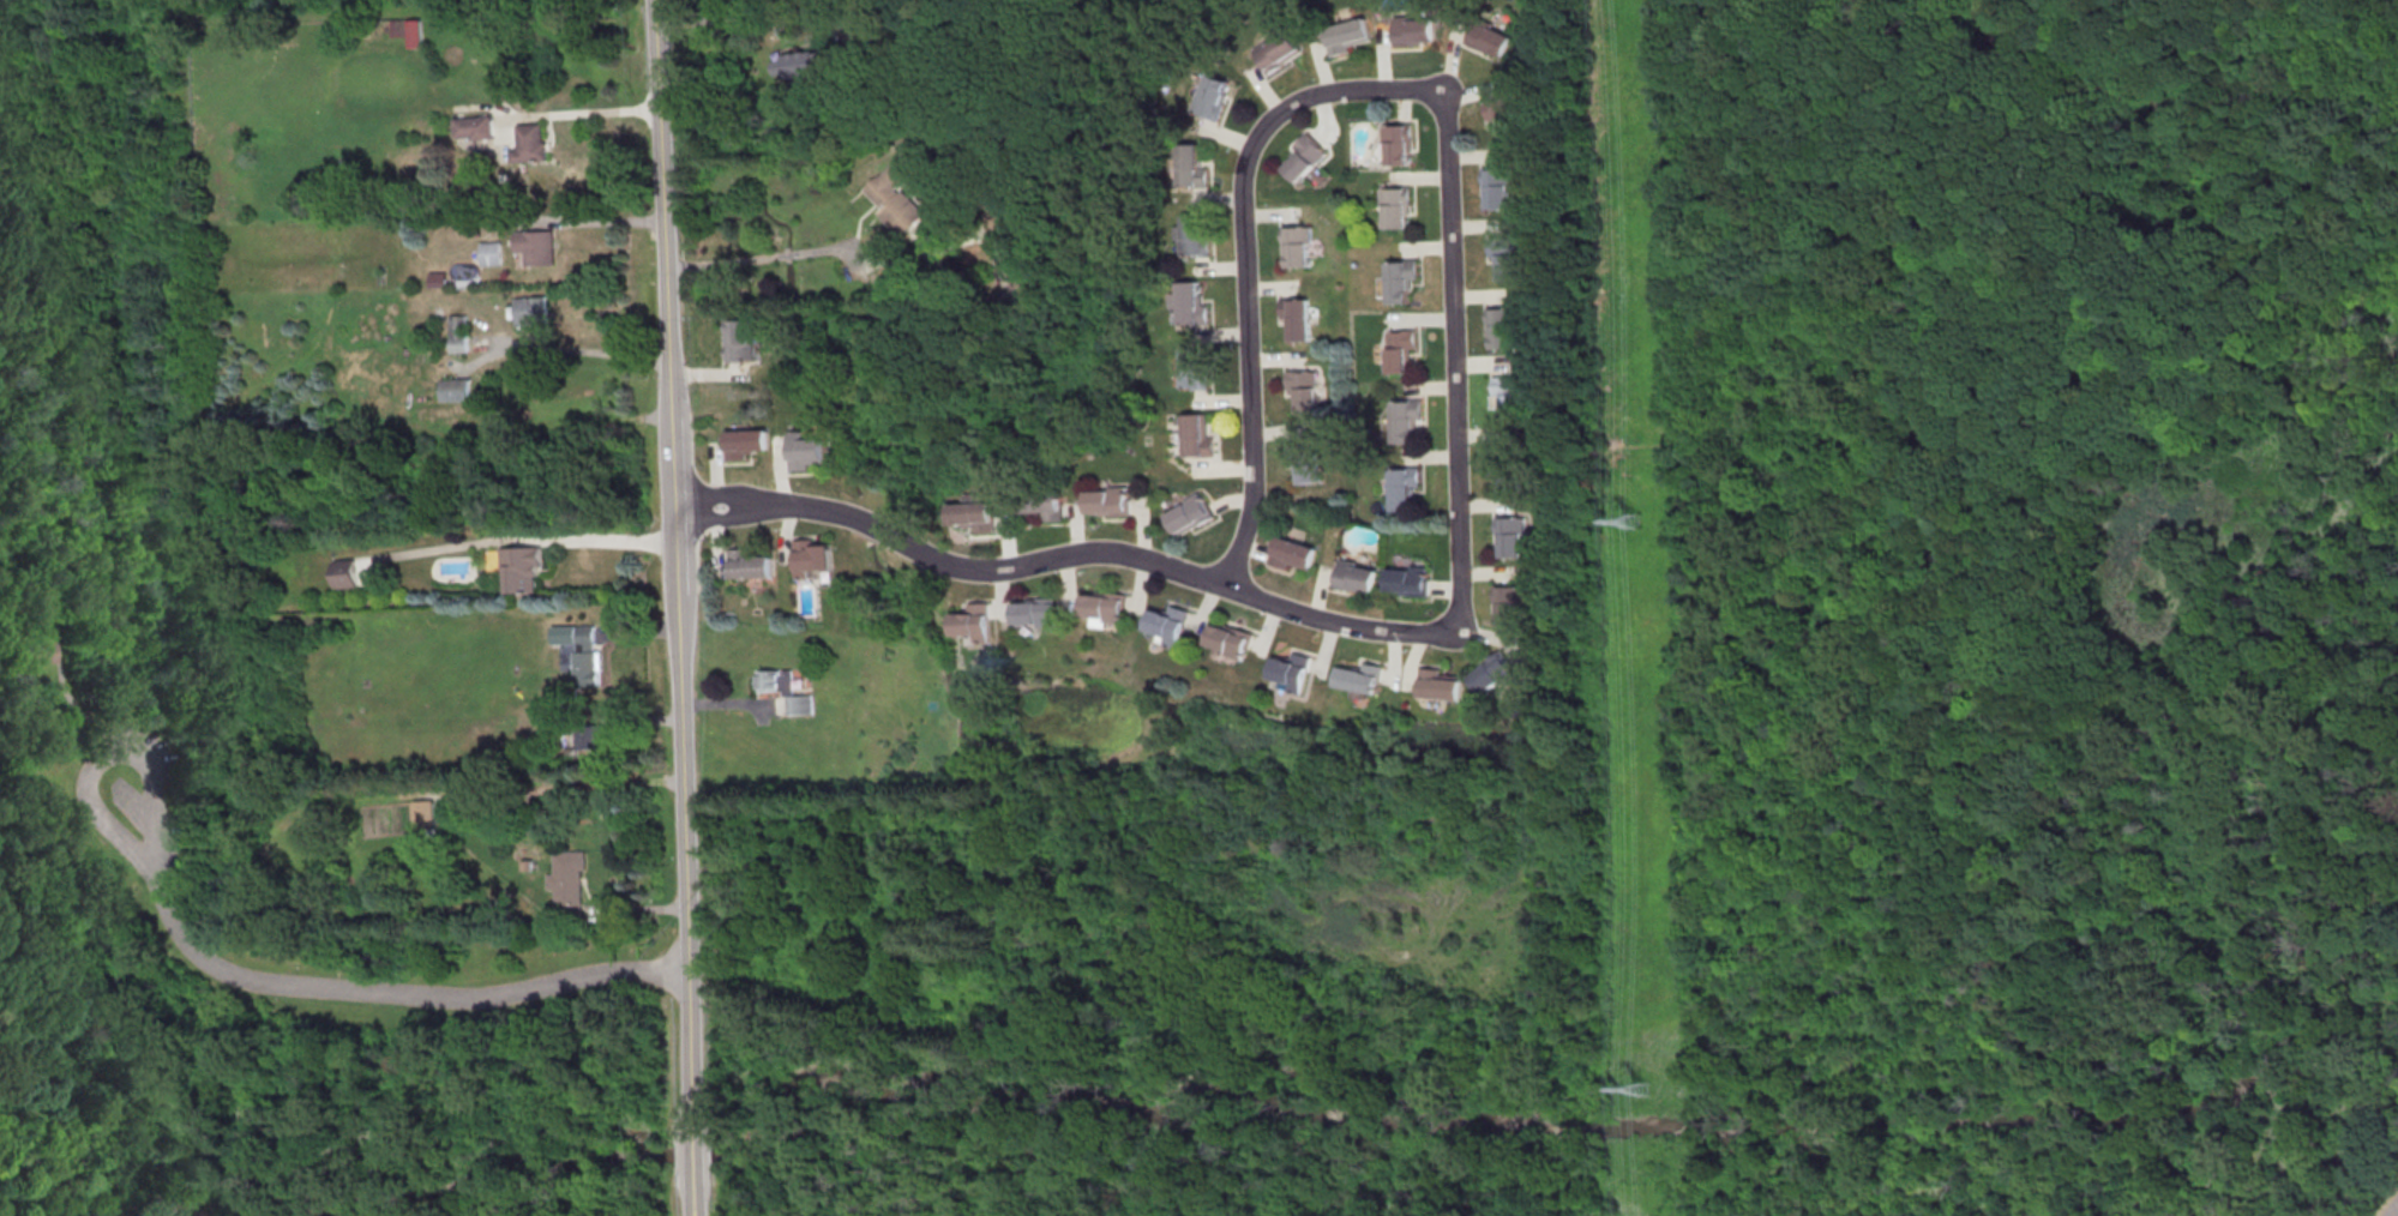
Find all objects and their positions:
road: (0, 0)
road: (149, 16)
road: (308, 16)
road: (758, 17)
building: (1412, 30)
building: (409, 31)
building: (1342, 36)
building: (1486, 38)
building: (1274, 52)
building: (805, 64)
building: (1209, 97)
road: (576, 114)
building: (1502, 118)
building: (475, 128)
building: (531, 144)
building: (1395, 144)
building: (1302, 156)
building: (1190, 167)
building: (1501, 186)
building: (896, 200)
building: (1393, 206)
building: (991, 207)
road: (573, 223)
road: (148, 224)
building: (474, 228)
building: (1195, 237)
road: (955, 245)
building: (539, 247)
building: (1294, 247)
building: (492, 253)
road: (813, 253)
building: (1502, 255)
road: (1239, 261)
building: (1021, 276)
building: (1398, 279)
building: (1189, 303)
building: (534, 312)
building: (1294, 318)
road: (2307, 327)
building: (1497, 329)
building: (461, 335)
building: (743, 339)
building: (1395, 349)
road: (571, 350)
road: (1449, 367)
building: (1190, 368)
road: (713, 374)
building: (1299, 389)
building: (457, 390)
building: (1507, 395)
road: (1697, 397)
road: (2116, 419)
building: (1401, 420)
building: (1194, 435)
building: (746, 443)
building: (809, 451)
building: (1299, 460)
building: (1504, 465)
road: (1742, 468)
building: (1400, 487)
road: (732, 493)
building: (1105, 501)
building: (1040, 502)
building: (1185, 513)
building: (974, 514)
road: (732, 518)
power tower: (1630, 520)
building: (1509, 534)
road: (513, 541)
road: (1111, 553)
building: (1286, 553)
building: (813, 558)
road: (678, 560)
building: (752, 564)
building: (521, 568)
road: (44, 570)
building: (344, 576)
building: (1352, 577)
building: (1405, 582)
building: (1507, 602)
building: (1101, 606)
building: (1035, 612)
building: (974, 621)
building: (1165, 624)
road: (638, 632)
building: (1225, 639)
building: (36, 652)
road: (116, 660)
building: (587, 669)
building: (1288, 670)
building: (1491, 674)
road: (62, 678)
building: (1357, 678)
road: (2033, 682)
building: (1437, 685)
building: (786, 691)
road: (734, 704)
road: (620, 720)
building: (551, 722)
park: (102, 734)
building: (591, 736)
road: (114, 748)
parking lot: (154, 796)
building: (567, 886)
road: (127, 904)
road: (635, 909)
road: (96, 928)
road: (1436, 946)
road: (47, 947)
road: (404, 994)
road: (17, 999)
road: (651, 1027)
road: (1961, 1036)
road: (5, 1066)
power tower: (1643, 1089)
road: (30, 1092)
road: (1436, 1121)
road: (1105, 1134)
road: (696, 1152)
road: (1436, 1186)
road: (697, 1200)
parking lot: (2393, 1210)
road: (2397, 1214)

